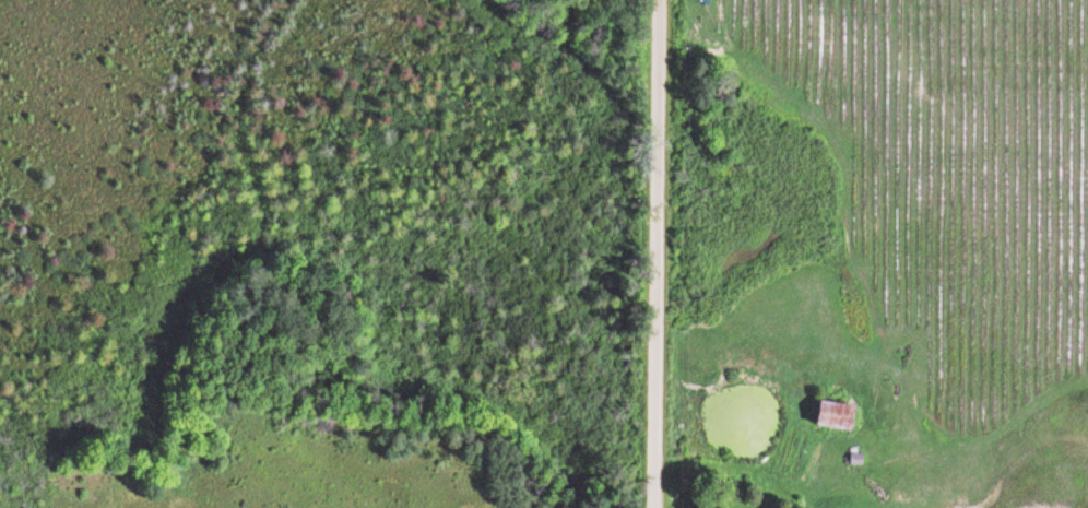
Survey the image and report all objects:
road: (657, 253)
building: (832, 418)

